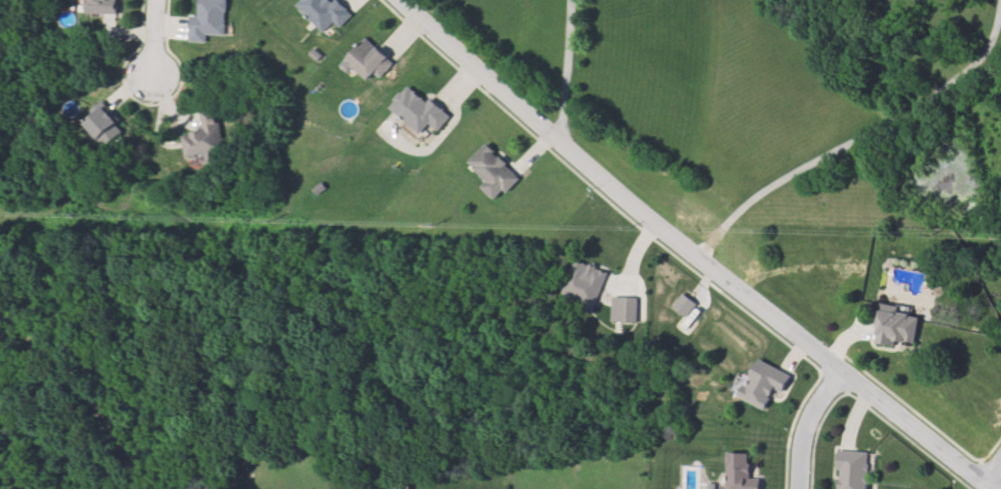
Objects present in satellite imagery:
building: (99, 6)
building: (323, 12)
building: (207, 20)
road: (153, 37)
building: (367, 58)
road: (569, 72)
building: (419, 111)
building: (105, 128)
building: (203, 132)
road: (855, 148)
building: (491, 170)
road: (613, 194)
building: (586, 282)
building: (684, 304)
building: (625, 306)
building: (896, 329)
building: (764, 385)
road: (809, 428)
road: (913, 433)
building: (854, 468)
building: (742, 471)
road: (993, 479)
building: (391, 488)
building: (402, 488)

